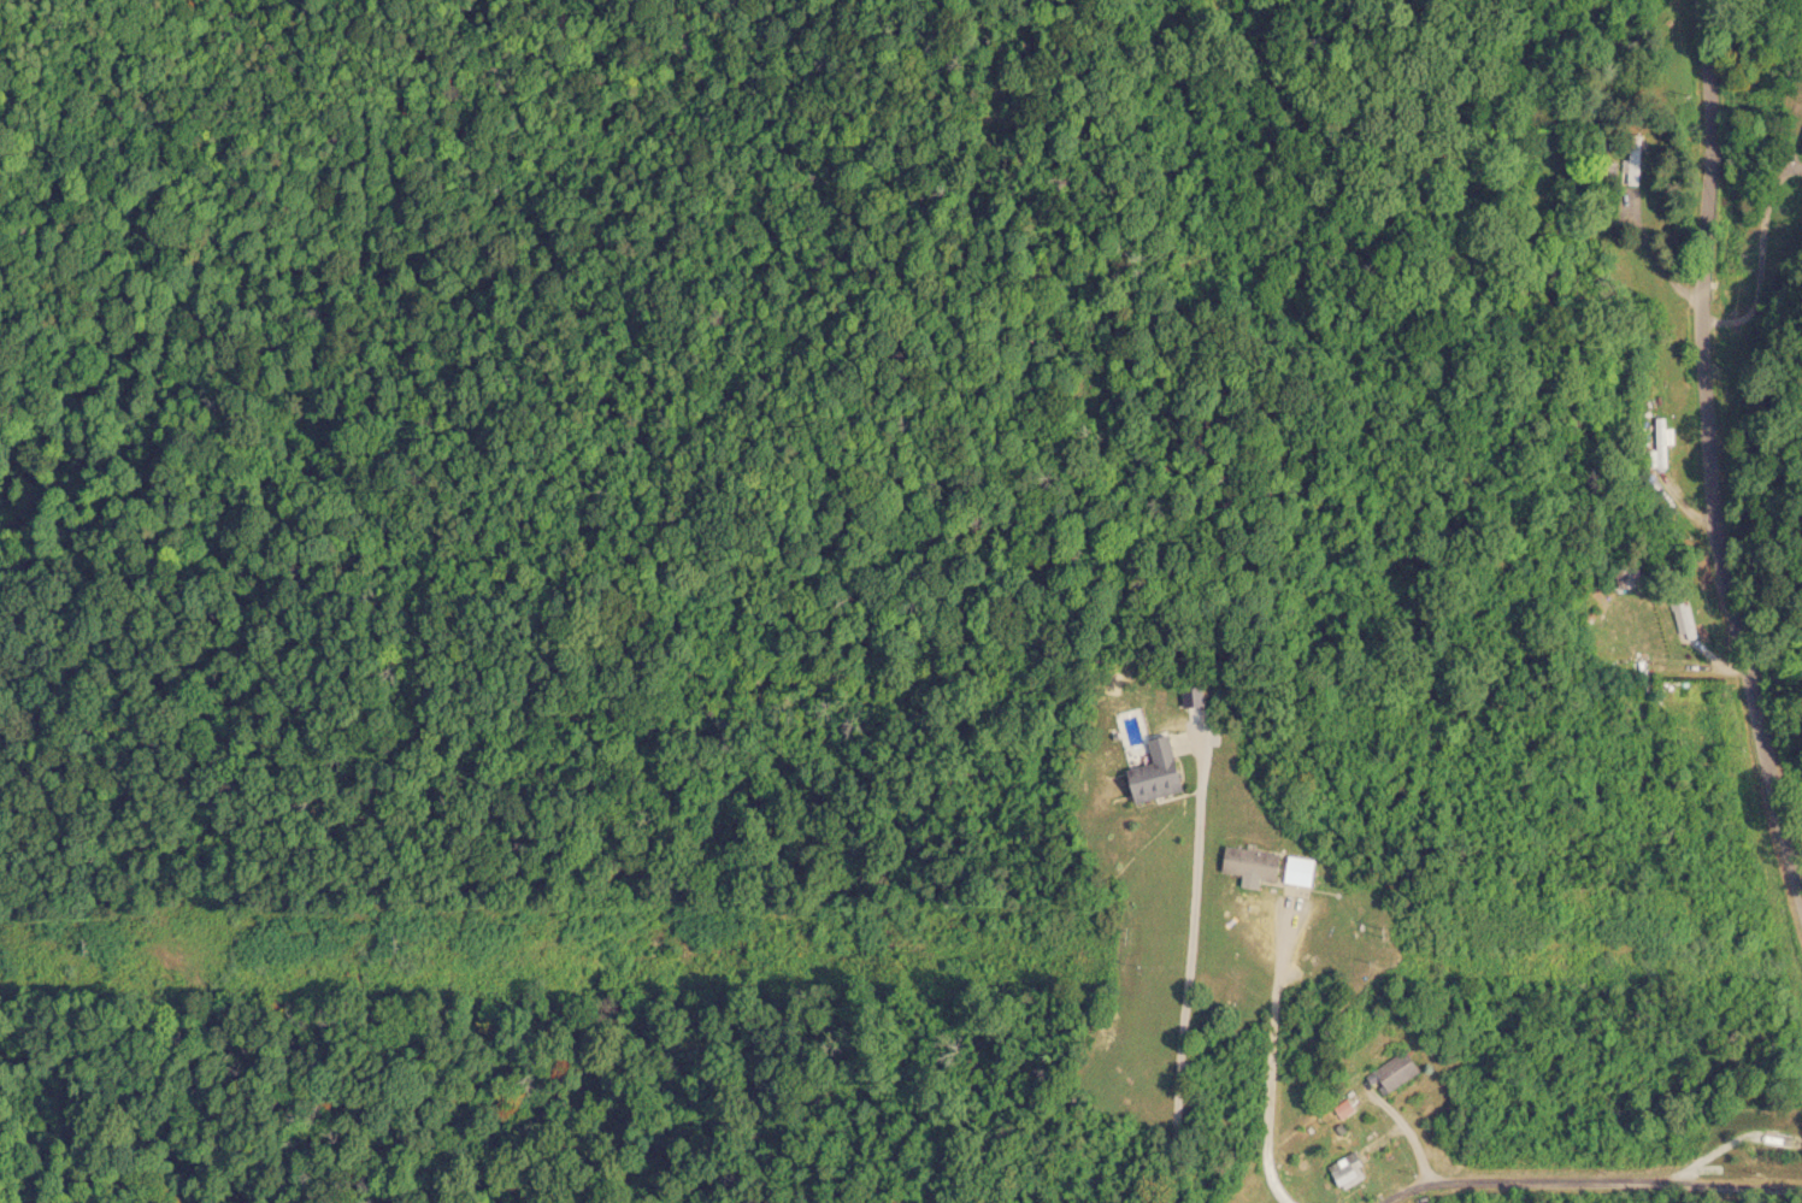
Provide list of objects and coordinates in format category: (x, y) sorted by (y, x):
building: (1800, 145)
building: (1631, 159)
building: (1660, 440)
road: (1715, 450)
building: (1149, 771)
building: (1244, 862)
building: (1291, 869)
building: (1389, 1071)
building: (1772, 1138)
building: (1341, 1170)
road: (1590, 1185)

